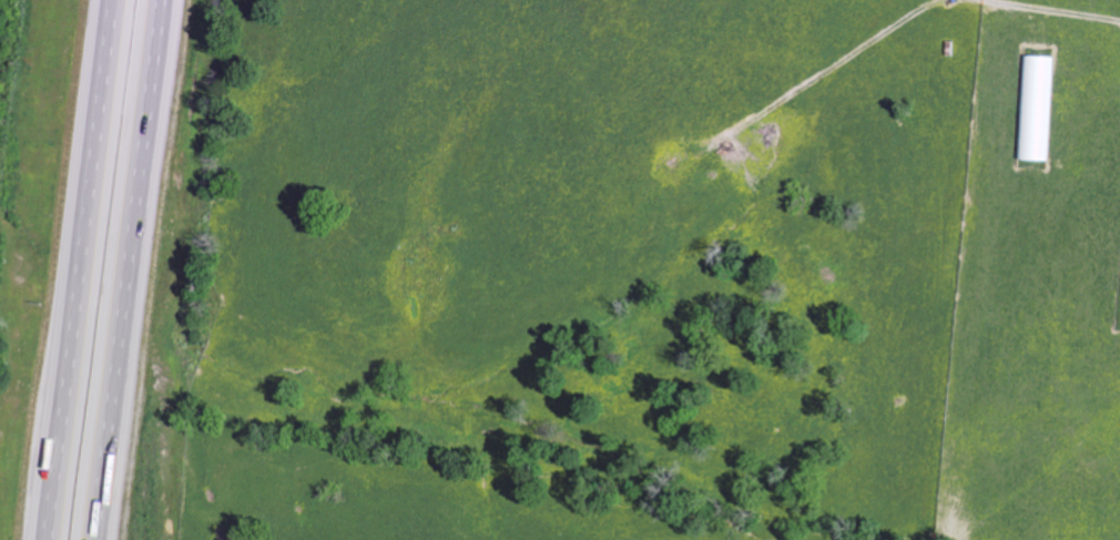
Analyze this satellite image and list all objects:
road: (1094, 20)
road: (81, 269)
road: (128, 269)

